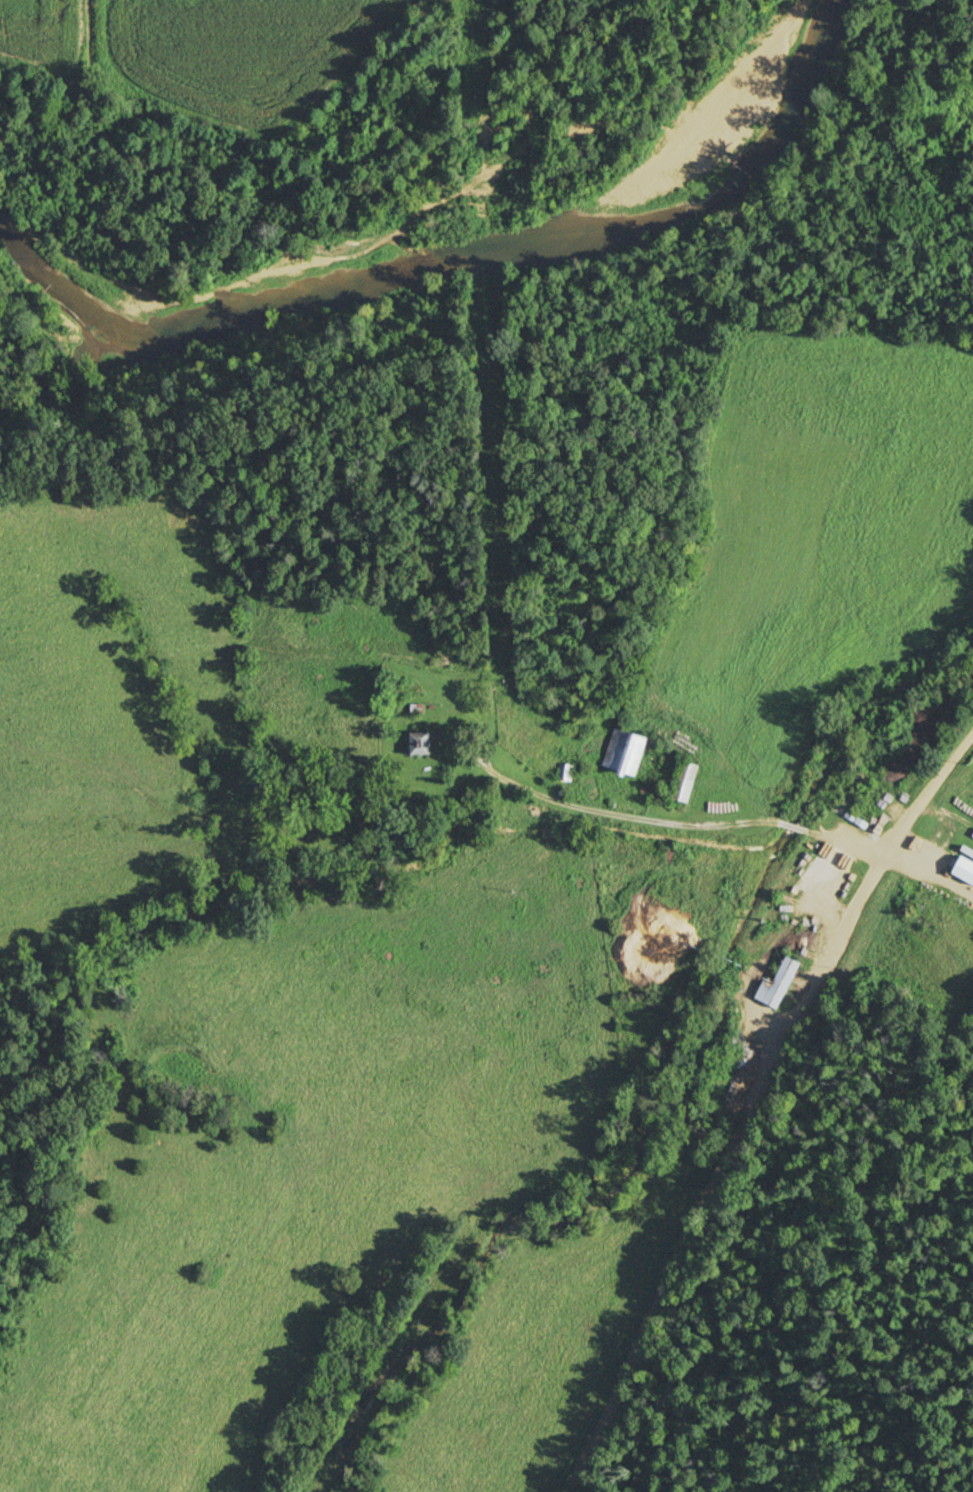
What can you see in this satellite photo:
river: (446, 270)
building: (421, 743)
building: (626, 751)
building: (566, 772)
building: (686, 781)
building: (965, 869)
building: (779, 983)
road: (760, 1107)

